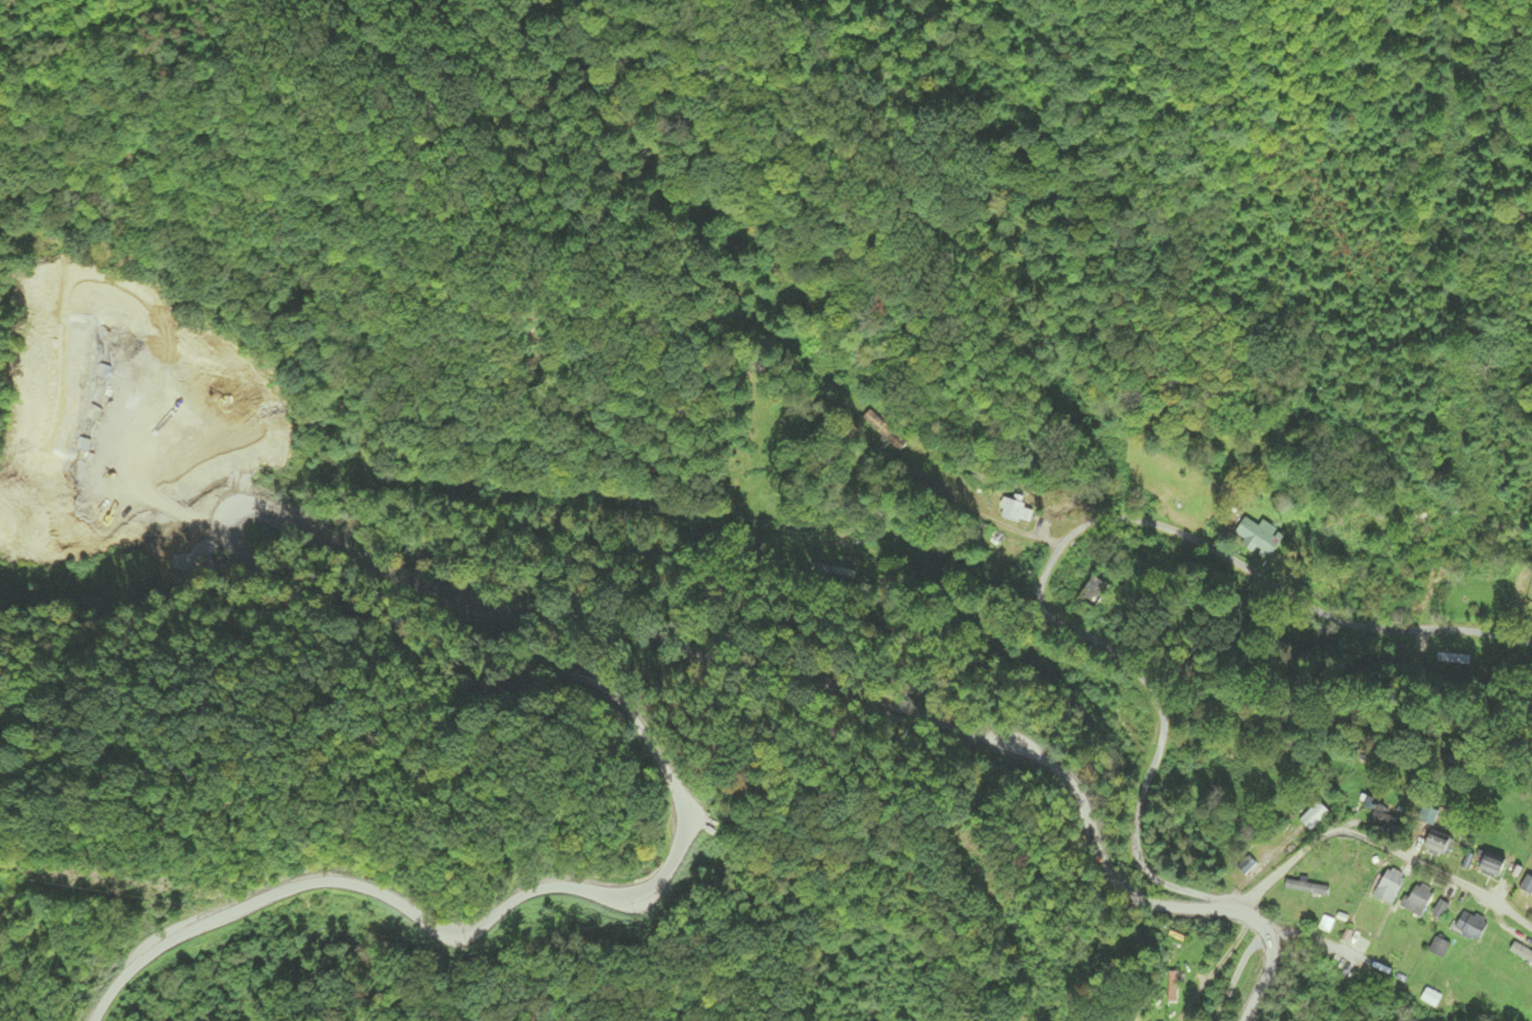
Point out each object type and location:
building: (192, 371)
building: (194, 414)
building: (1011, 511)
building: (1257, 535)
building: (1092, 593)
road: (1042, 599)
road: (672, 644)
building: (1311, 817)
building: (1424, 818)
road: (1377, 843)
building: (1430, 846)
building: (1487, 866)
building: (1526, 885)
building: (1387, 886)
building: (1305, 888)
building: (1415, 901)
building: (1438, 911)
building: (1468, 926)
road: (1308, 939)
building: (1437, 949)
road: (1237, 975)

